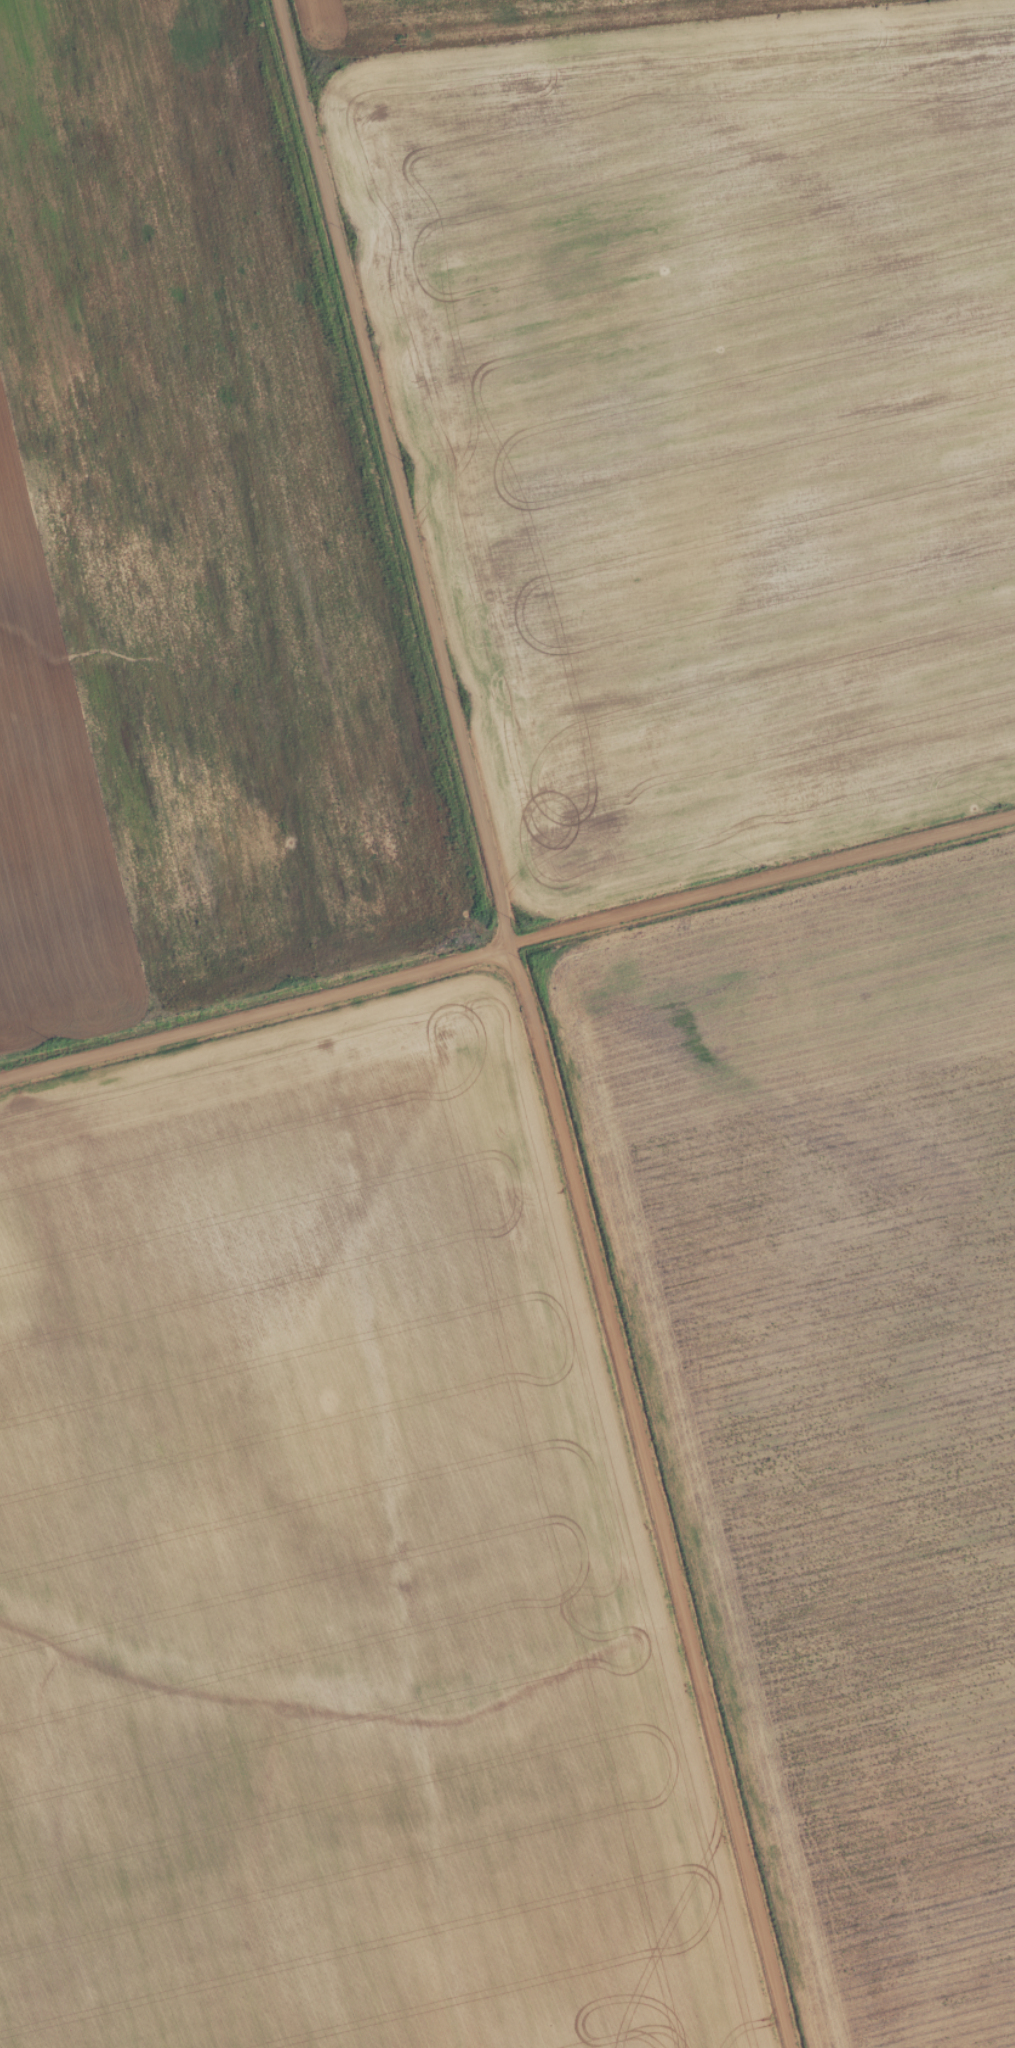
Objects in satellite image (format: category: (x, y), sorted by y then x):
road: (507, 940)
road: (531, 1024)

